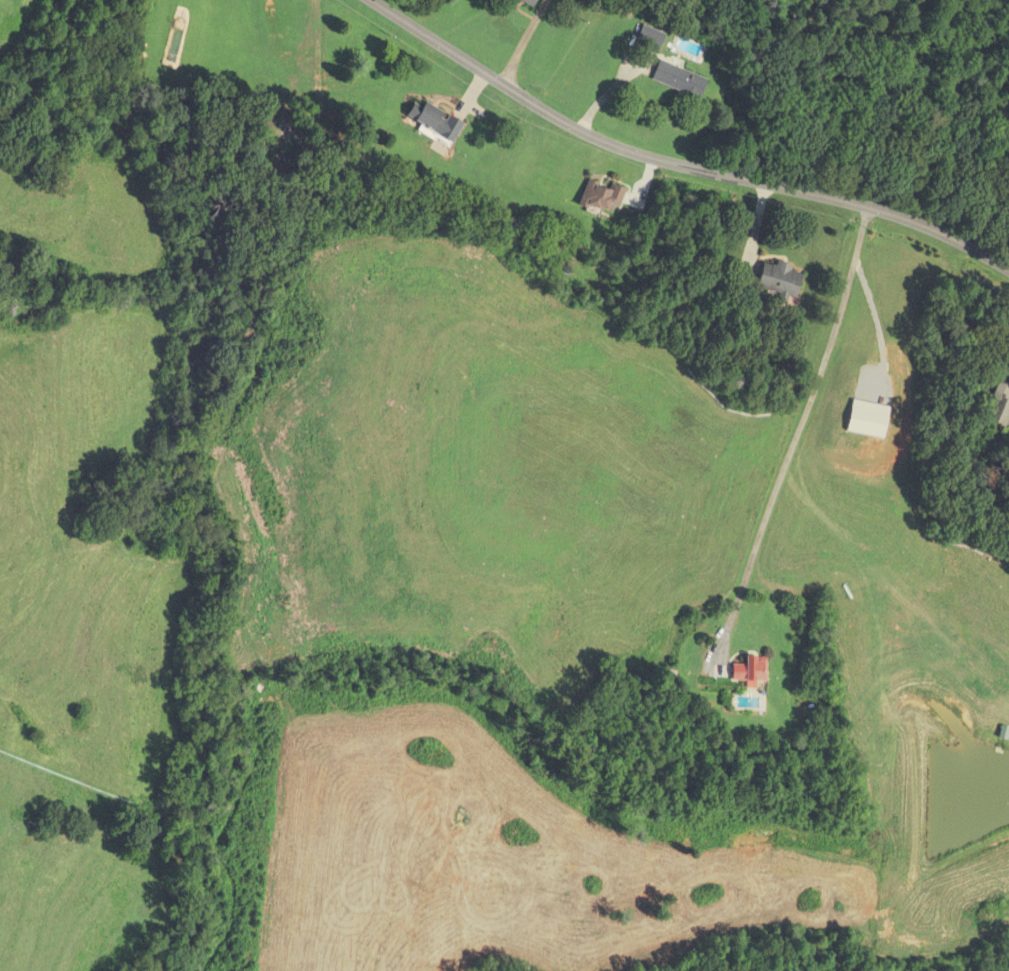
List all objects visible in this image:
building: (530, 2)
building: (650, 38)
road: (522, 44)
building: (680, 79)
building: (436, 121)
road: (674, 166)
building: (603, 197)
building: (780, 279)
building: (1001, 405)
road: (799, 429)
building: (751, 670)

